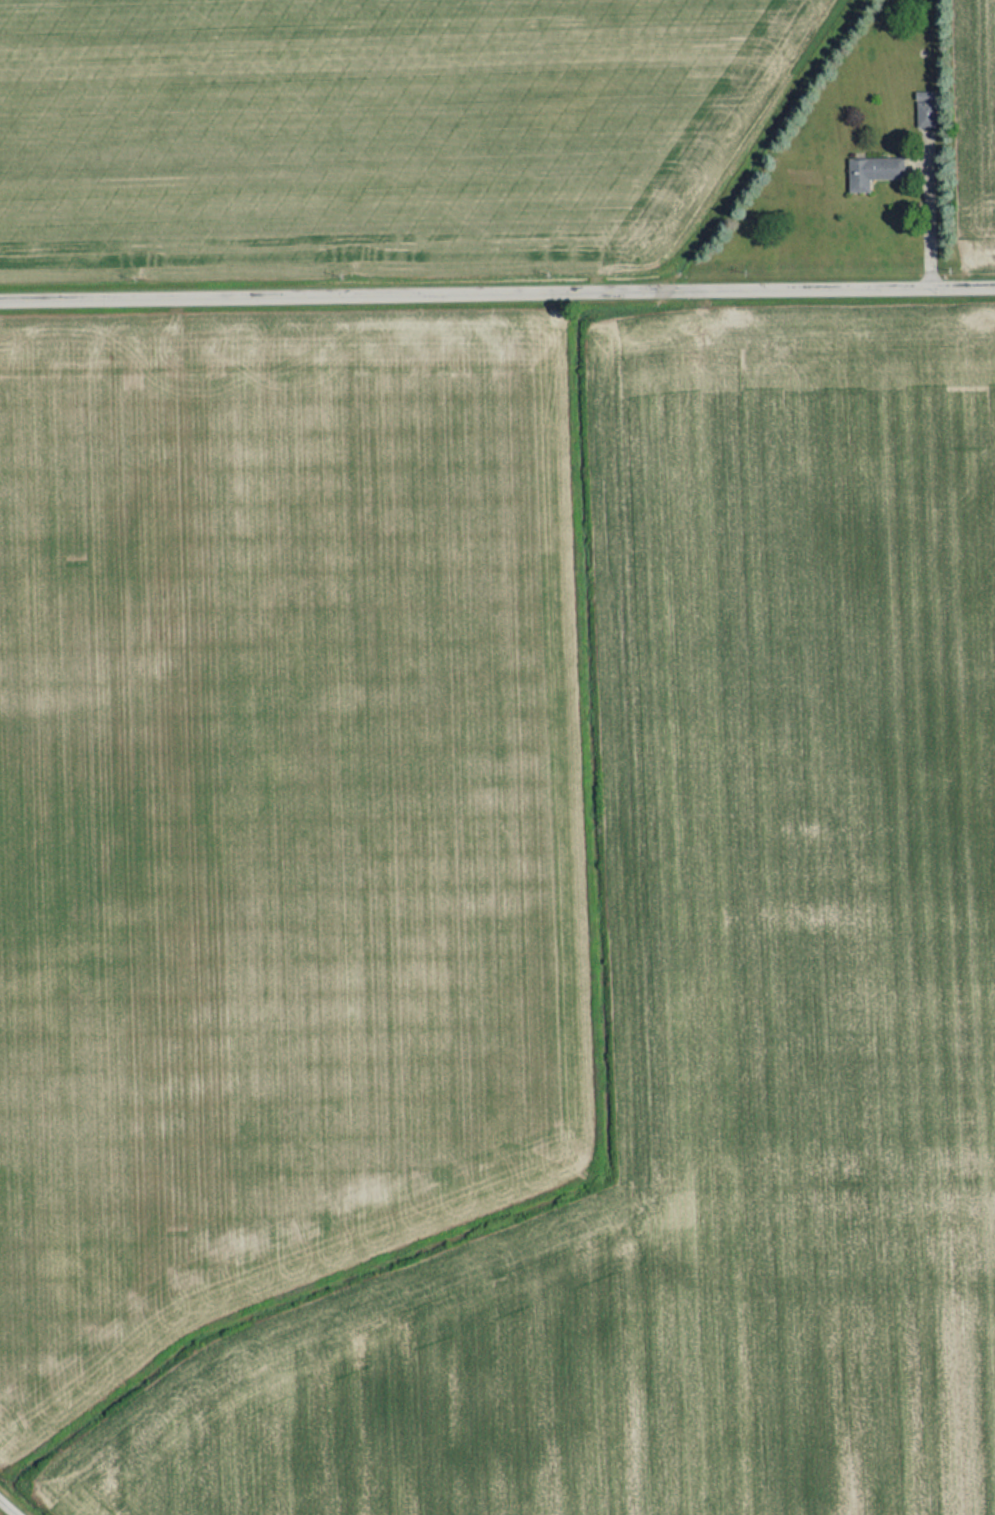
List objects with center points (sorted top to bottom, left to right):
building: (920, 114)
crop: (973, 128)
crop: (373, 129)
building: (867, 172)
road: (497, 284)
crop: (271, 809)
crop: (721, 1008)
road: (12, 1504)

